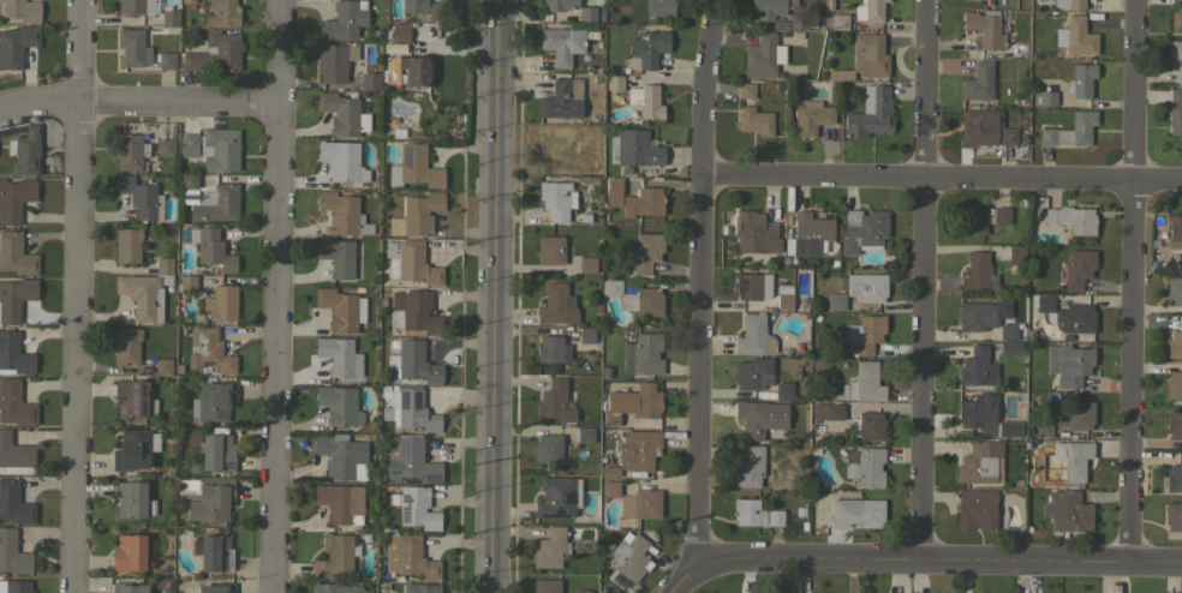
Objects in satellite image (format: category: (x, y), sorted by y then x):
building: (189, 1)
building: (987, 2)
building: (559, 4)
building: (1068, 4)
building: (136, 6)
building: (659, 7)
building: (771, 7)
building: (425, 8)
building: (20, 10)
building: (870, 10)
building: (221, 12)
building: (587, 14)
building: (1176, 18)
building: (168, 19)
building: (344, 19)
building: (837, 20)
building: (801, 22)
road: (495, 24)
building: (855, 25)
building: (985, 28)
building: (400, 32)
building: (1075, 36)
building: (561, 44)
building: (16, 46)
building: (133, 47)
building: (646, 49)
building: (214, 53)
building: (868, 55)
building: (762, 56)
building: (1176, 59)
building: (167, 60)
building: (334, 61)
building: (389, 70)
building: (414, 70)
building: (840, 74)
building: (370, 80)
building: (1080, 80)
building: (614, 82)
building: (978, 82)
building: (746, 90)
building: (562, 98)
building: (1045, 98)
building: (645, 101)
road: (138, 103)
building: (1175, 112)
building: (870, 113)
building: (342, 114)
building: (811, 116)
building: (754, 120)
building: (978, 126)
building: (1070, 131)
building: (1007, 136)
building: (189, 144)
building: (635, 146)
building: (165, 148)
building: (220, 149)
building: (24, 151)
building: (130, 151)
rooftop solar panel: (406, 155)
building: (342, 161)
building: (413, 167)
road: (941, 176)
building: (141, 197)
building: (14, 198)
building: (633, 198)
building: (208, 199)
building: (556, 199)
building: (342, 214)
building: (418, 214)
building: (1001, 215)
building: (1071, 218)
building: (973, 220)
building: (1175, 228)
building: (862, 230)
building: (754, 233)
building: (810, 235)
building: (127, 245)
building: (211, 248)
building: (550, 250)
building: (1153, 250)
building: (643, 252)
building: (16, 254)
building: (1016, 254)
building: (336, 256)
building: (412, 264)
building: (586, 264)
building: (163, 265)
building: (1077, 268)
building: (977, 272)
road: (924, 277)
road: (699, 278)
road: (1134, 280)
building: (186, 282)
building: (752, 286)
building: (866, 287)
building: (1174, 290)
road: (74, 295)
road: (275, 295)
building: (783, 295)
building: (141, 296)
building: (14, 298)
building: (635, 298)
building: (835, 301)
building: (221, 303)
building: (1014, 303)
building: (556, 305)
building: (339, 310)
building: (414, 311)
building: (1068, 315)
building: (977, 316)
road: (491, 321)
building: (1007, 330)
building: (865, 333)
building: (585, 335)
building: (753, 336)
building: (1175, 342)
building: (126, 346)
building: (1011, 348)
building: (551, 349)
building: (209, 351)
building: (13, 353)
building: (641, 354)
building: (339, 357)
building: (413, 363)
building: (1068, 364)
building: (162, 366)
building: (977, 367)
building: (604, 372)
building: (751, 372)
building: (862, 383)
building: (1174, 384)
building: (783, 390)
building: (132, 399)
rooftop solar panel: (405, 399)
rooftop solar panel: (414, 399)
building: (215, 400)
building: (554, 401)
building: (632, 403)
building: (14, 405)
building: (339, 406)
building: (828, 411)
building: (411, 412)
building: (979, 413)
building: (1075, 415)
building: (760, 418)
building: (1174, 424)
building: (867, 425)
building: (1010, 429)
building: (1043, 429)
building: (584, 435)
rooftop solar panel: (404, 444)
building: (548, 448)
building: (133, 449)
building: (637, 449)
building: (216, 453)
building: (14, 455)
building: (339, 459)
building: (1071, 460)
building: (412, 461)
building: (980, 462)
rooftop solar panel: (227, 466)
building: (751, 466)
building: (865, 467)
building: (608, 472)
rooftop solar panel: (395, 473)
building: (1174, 475)
rooftop solar panel: (432, 477)
building: (555, 496)
building: (130, 498)
building: (211, 501)
building: (339, 501)
building: (633, 501)
building: (13, 503)
rooftop solar panel: (407, 508)
building: (417, 508)
building: (975, 508)
building: (1068, 510)
building: (747, 511)
building: (856, 513)
building: (1172, 516)
building: (774, 517)
building: (551, 547)
building: (127, 552)
building: (213, 552)
building: (12, 553)
building: (335, 556)
building: (629, 556)
road: (918, 557)
building: (412, 558)
building: (547, 586)
building: (17, 587)
building: (127, 587)
building: (215, 588)
building: (335, 588)
building: (420, 588)
building: (581, 591)

